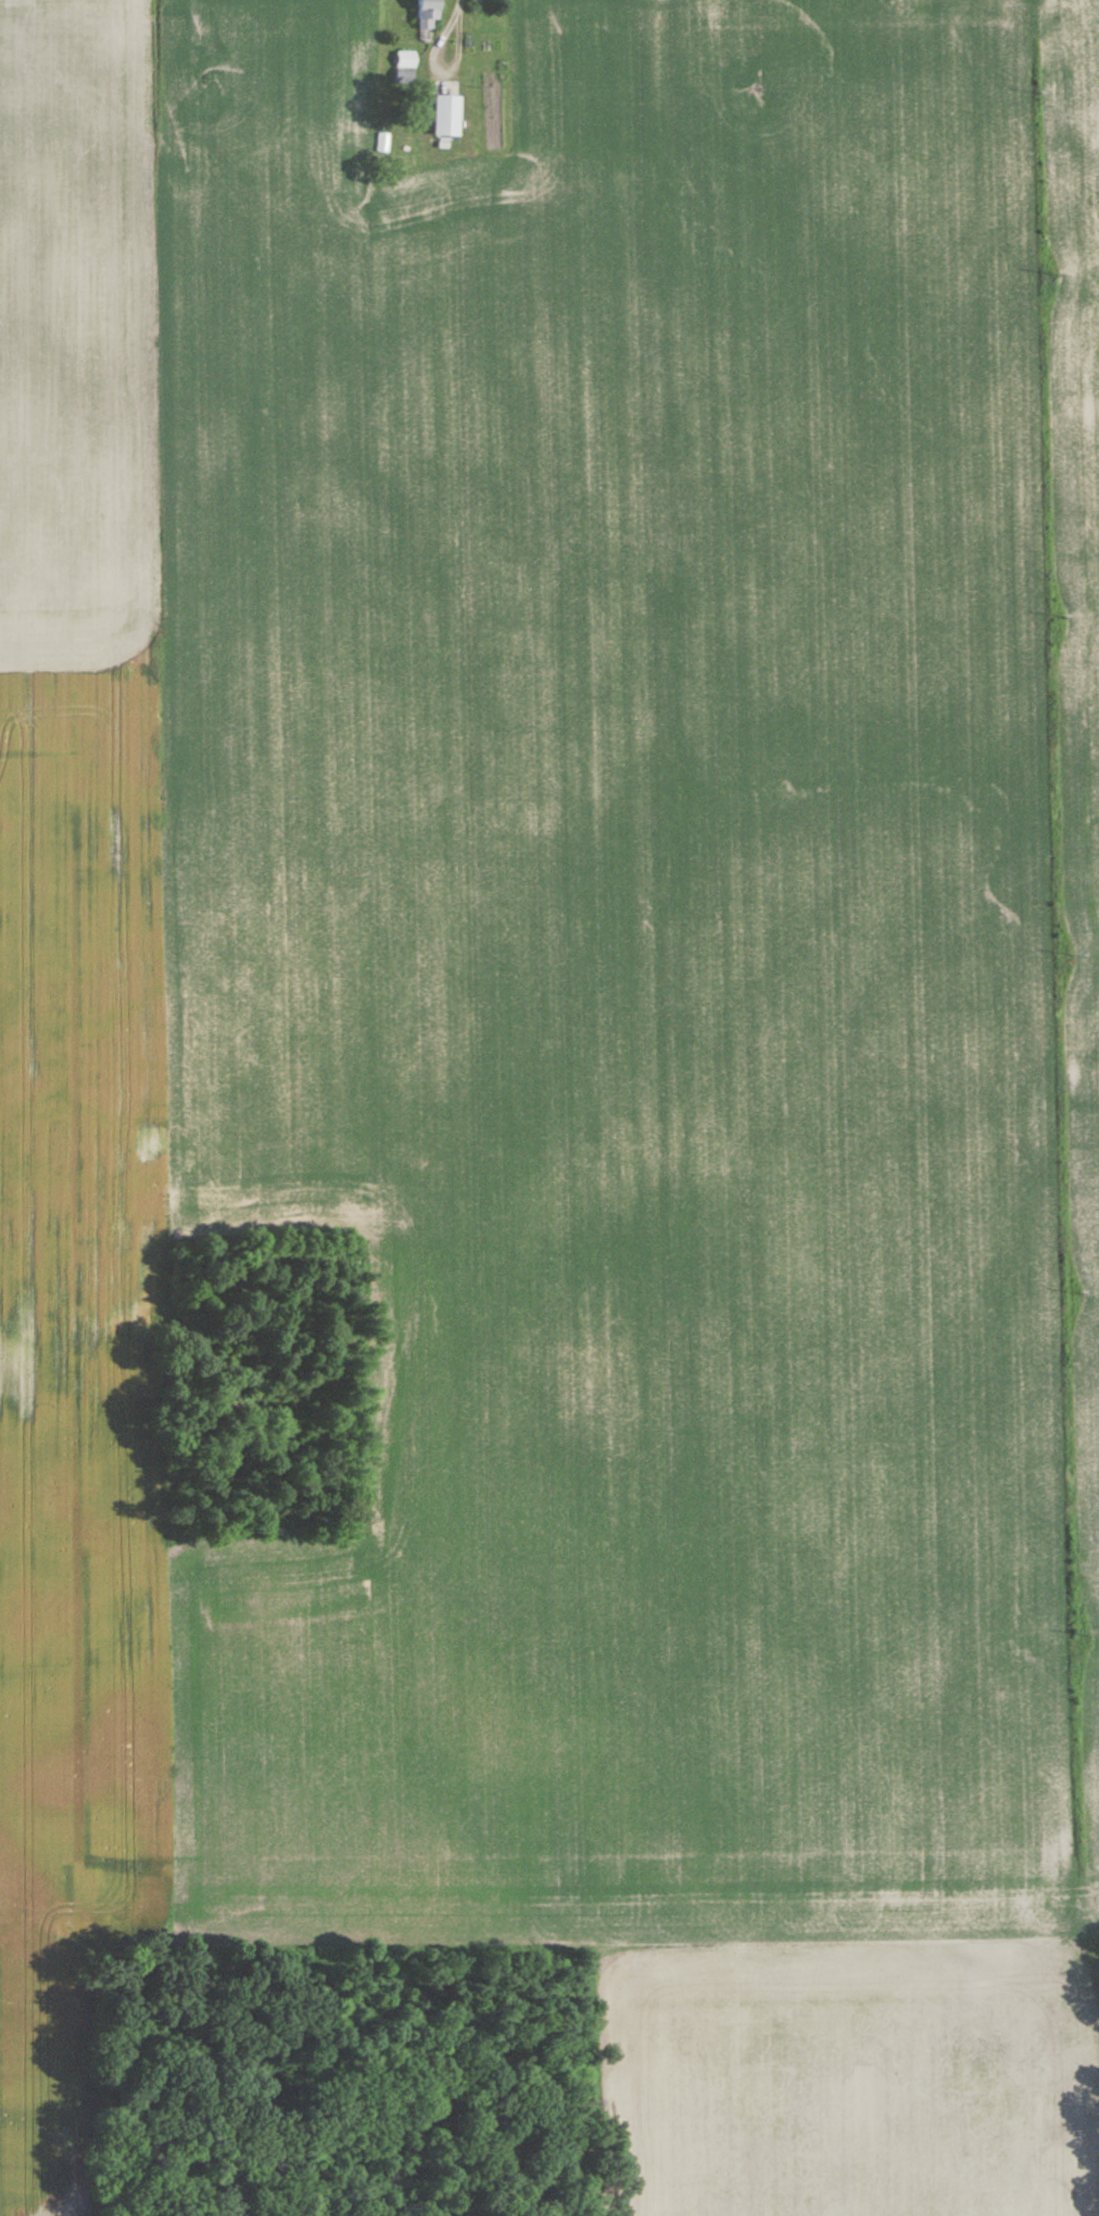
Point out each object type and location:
building: (428, 14)
building: (405, 68)
building: (447, 116)

